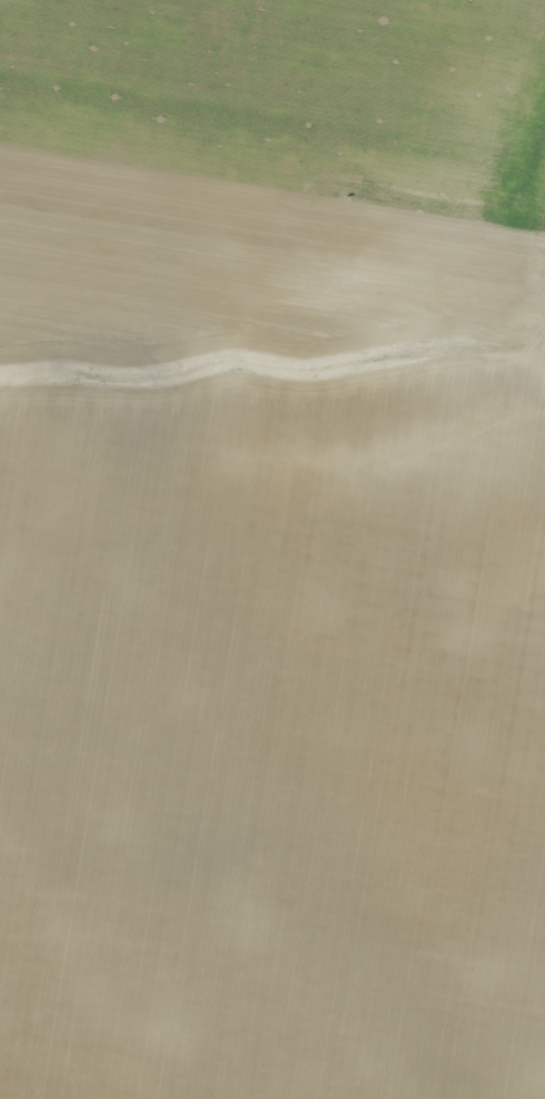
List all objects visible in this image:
road: (272, 224)

